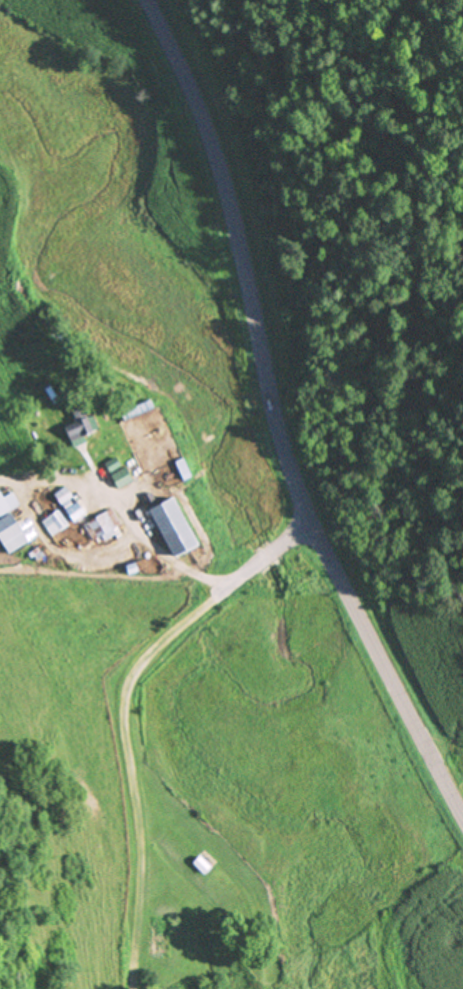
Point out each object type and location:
road: (280, 418)
building: (82, 424)
building: (126, 478)
building: (70, 504)
building: (5, 505)
building: (56, 523)
building: (180, 527)
road: (262, 559)

